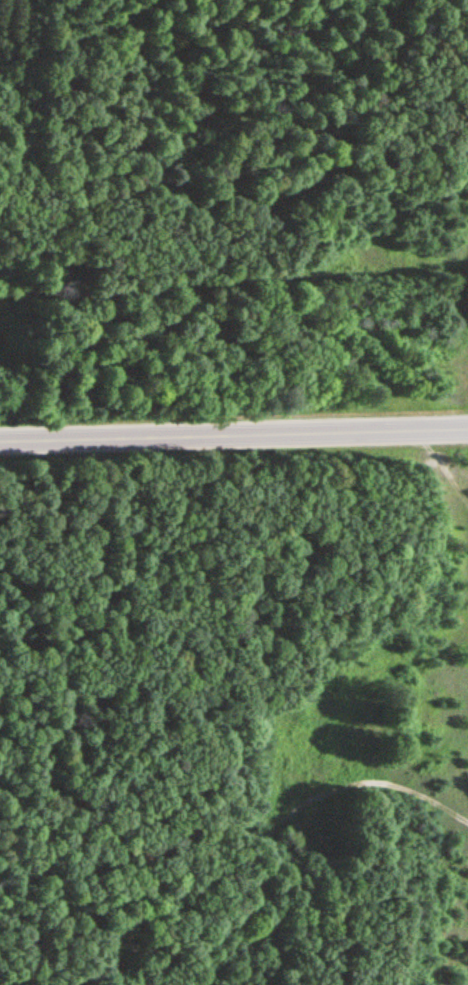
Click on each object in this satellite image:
road: (234, 434)

